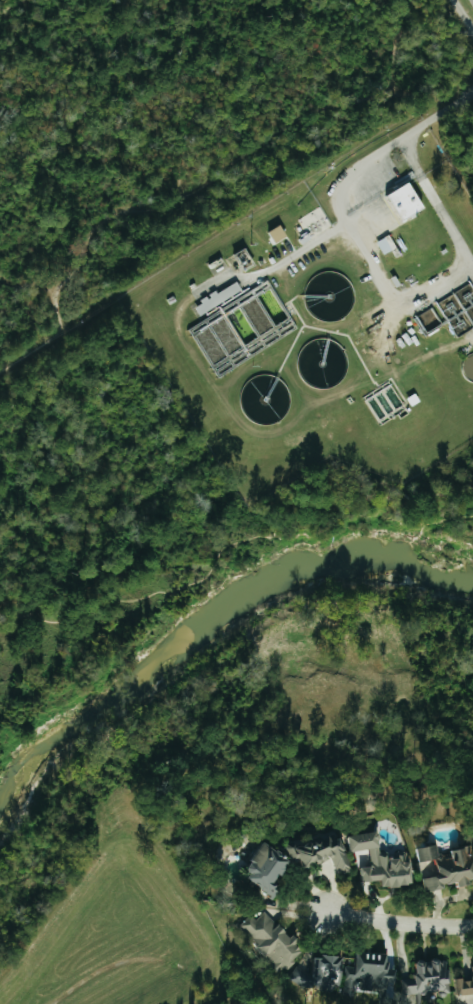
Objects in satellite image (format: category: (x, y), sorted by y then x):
road: (5, 3)
road: (463, 17)
road: (142, 100)
park: (193, 126)
road: (239, 159)
road: (438, 200)
building: (410, 201)
road: (341, 214)
building: (279, 235)
building: (389, 246)
road: (298, 253)
building: (220, 299)
wastewater plant: (332, 318)
building: (432, 319)
road: (50, 333)
road: (227, 553)
road: (11, 610)
river: (206, 614)
road: (1, 629)
building: (324, 854)
building: (386, 863)
building: (449, 869)
building: (271, 871)
road: (394, 923)
building: (276, 942)
building: (374, 973)
building: (323, 974)
building: (428, 977)
building: (462, 984)

